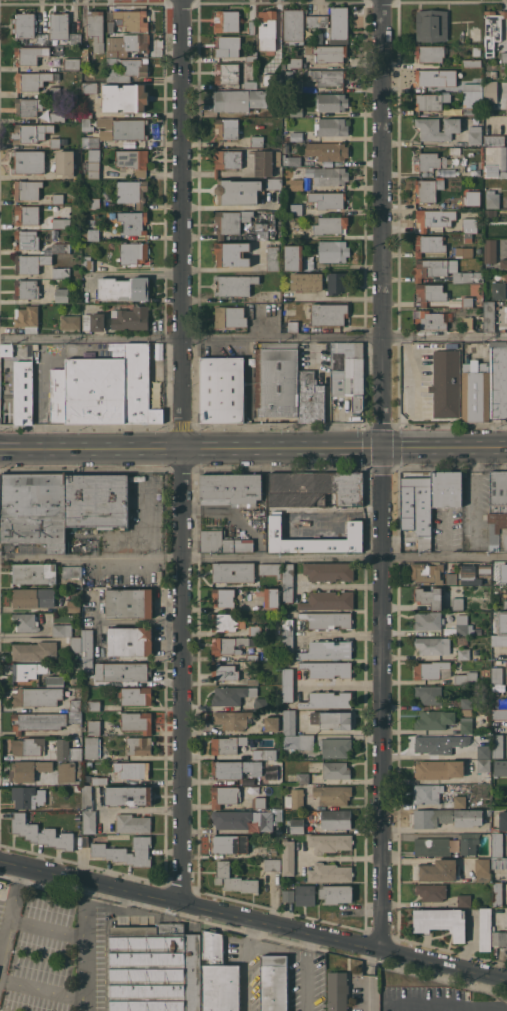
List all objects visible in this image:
building: (132, 19)
building: (226, 21)
building: (317, 21)
building: (267, 24)
building: (24, 25)
building: (59, 25)
building: (339, 25)
building: (432, 25)
building: (110, 26)
building: (294, 26)
building: (252, 27)
building: (96, 29)
building: (492, 29)
building: (42, 38)
building: (75, 38)
building: (128, 42)
building: (228, 46)
building: (477, 51)
building: (327, 52)
building: (112, 53)
building: (430, 53)
building: (30, 54)
building: (86, 55)
building: (504, 56)
building: (251, 58)
building: (277, 61)
building: (72, 63)
building: (295, 63)
building: (472, 63)
building: (506, 66)
building: (127, 68)
building: (503, 69)
building: (227, 73)
building: (288, 74)
building: (493, 74)
building: (328, 77)
building: (433, 78)
building: (34, 79)
building: (250, 84)
building: (297, 86)
building: (90, 87)
building: (473, 87)
building: (55, 91)
building: (490, 91)
building: (124, 97)
building: (245, 99)
building: (431, 101)
building: (331, 102)
building: (471, 102)
building: (34, 106)
building: (296, 111)
building: (87, 114)
building: (57, 117)
building: (331, 127)
building: (227, 128)
building: (437, 128)
building: (129, 129)
building: (30, 132)
building: (105, 135)
building: (475, 135)
building: (296, 136)
building: (494, 140)
building: (257, 141)
building: (94, 142)
building: (55, 143)
building: (129, 143)
building: (286, 147)
building: (327, 150)
building: (452, 150)
building: (94, 154)
building: (227, 158)
building: (133, 160)
building: (291, 160)
building: (463, 160)
building: (496, 160)
building: (29, 161)
building: (430, 161)
building: (65, 162)
building: (264, 163)
building: (93, 169)
building: (446, 172)
building: (329, 175)
building: (273, 184)
building: (294, 185)
building: (27, 189)
building: (428, 189)
building: (238, 191)
building: (132, 192)
building: (471, 197)
building: (58, 198)
building: (328, 199)
building: (492, 199)
building: (94, 203)
building: (296, 209)
building: (27, 214)
building: (430, 219)
building: (231, 221)
building: (133, 222)
building: (62, 223)
building: (330, 225)
building: (470, 225)
building: (262, 231)
building: (56, 232)
building: (90, 234)
building: (27, 239)
building: (429, 244)
building: (63, 248)
building: (333, 251)
building: (464, 251)
building: (490, 251)
building: (135, 253)
building: (232, 253)
building: (294, 257)
building: (273, 258)
building: (30, 263)
building: (87, 263)
building: (503, 263)
building: (444, 270)
building: (61, 272)
road: (141, 274)
building: (307, 281)
building: (337, 283)
building: (235, 284)
building: (26, 288)
building: (124, 288)
building: (498, 290)
building: (430, 293)
building: (61, 295)
road: (337, 297)
building: (467, 301)
building: (468, 311)
building: (328, 314)
building: (230, 317)
building: (27, 318)
building: (130, 318)
building: (491, 318)
building: (429, 320)
building: (70, 321)
building: (94, 322)
building: (467, 322)
building: (292, 326)
road: (253, 338)
building: (7, 349)
building: (348, 371)
building: (277, 379)
building: (498, 380)
building: (446, 382)
building: (111, 389)
building: (223, 389)
building: (23, 391)
building: (476, 391)
building: (58, 395)
building: (310, 398)
road: (253, 447)
traffic signals: (385, 447)
road: (183, 450)
road: (385, 476)
building: (315, 488)
building: (447, 488)
building: (231, 489)
road: (474, 492)
building: (97, 501)
building: (417, 508)
building: (35, 510)
building: (498, 510)
building: (314, 538)
building: (224, 542)
road: (253, 558)
building: (270, 569)
building: (484, 570)
building: (72, 571)
building: (329, 571)
building: (233, 572)
building: (426, 572)
building: (34, 573)
building: (468, 575)
building: (451, 578)
building: (506, 580)
building: (288, 582)
building: (34, 597)
building: (223, 597)
building: (429, 597)
building: (272, 598)
building: (328, 600)
building: (129, 602)
building: (457, 603)
building: (505, 604)
building: (73, 606)
building: (327, 619)
building: (427, 620)
building: (25, 622)
building: (223, 622)
building: (461, 624)
building: (62, 630)
building: (255, 630)
building: (287, 636)
building: (499, 640)
building: (130, 641)
building: (232, 644)
building: (433, 645)
building: (84, 649)
building: (327, 649)
building: (34, 650)
building: (464, 653)
building: (252, 657)
building: (327, 669)
building: (431, 669)
building: (28, 670)
building: (121, 671)
building: (224, 671)
building: (497, 675)
building: (466, 677)
building: (51, 681)
building: (252, 681)
road: (344, 684)
building: (288, 685)
building: (232, 694)
building: (429, 694)
building: (37, 696)
building: (136, 696)
building: (327, 699)
building: (466, 703)
building: (499, 703)
building: (261, 704)
building: (76, 705)
building: (94, 705)
building: (467, 712)
building: (499, 714)
building: (75, 717)
building: (232, 719)
building: (332, 719)
building: (435, 719)
building: (38, 721)
building: (137, 722)
building: (289, 722)
building: (271, 723)
building: (466, 723)
building: (94, 727)
building: (459, 740)
building: (298, 741)
building: (227, 744)
building: (430, 744)
building: (140, 745)
building: (498, 745)
building: (26, 746)
building: (335, 746)
building: (92, 747)
building: (483, 751)
building: (75, 753)
building: (264, 754)
building: (63, 757)
building: (80, 764)
building: (500, 767)
building: (28, 769)
building: (132, 769)
building: (235, 769)
building: (439, 769)
building: (336, 770)
building: (483, 770)
building: (66, 772)
building: (88, 778)
building: (303, 778)
building: (98, 780)
building: (77, 788)
building: (427, 793)
building: (333, 794)
building: (128, 795)
building: (224, 795)
building: (28, 796)
building: (87, 798)
building: (295, 799)
building: (460, 801)
building: (260, 802)
building: (447, 817)
building: (242, 819)
building: (335, 819)
building: (503, 820)
building: (89, 821)
building: (133, 823)
building: (297, 825)
building: (41, 833)
building: (85, 841)
building: (330, 842)
building: (469, 843)
building: (229, 844)
building: (497, 844)
building: (432, 846)
building: (274, 850)
building: (126, 852)
building: (288, 856)
building: (499, 863)
building: (272, 865)
building: (436, 870)
building: (482, 870)
building: (329, 872)
building: (234, 879)
building: (431, 891)
building: (336, 893)
building: (497, 894)
building: (305, 895)
building: (288, 896)
building: (464, 900)
road: (10, 909)
building: (121, 919)
road: (254, 919)
building: (441, 921)
road: (47, 925)
building: (485, 928)
building: (498, 938)
road: (85, 945)
parking lot: (52, 951)
building: (155, 968)
road: (306, 972)
building: (219, 976)
building: (274, 983)
road: (43, 988)
building: (337, 990)
building: (372, 993)
road: (429, 1002)
road: (486, 1010)

